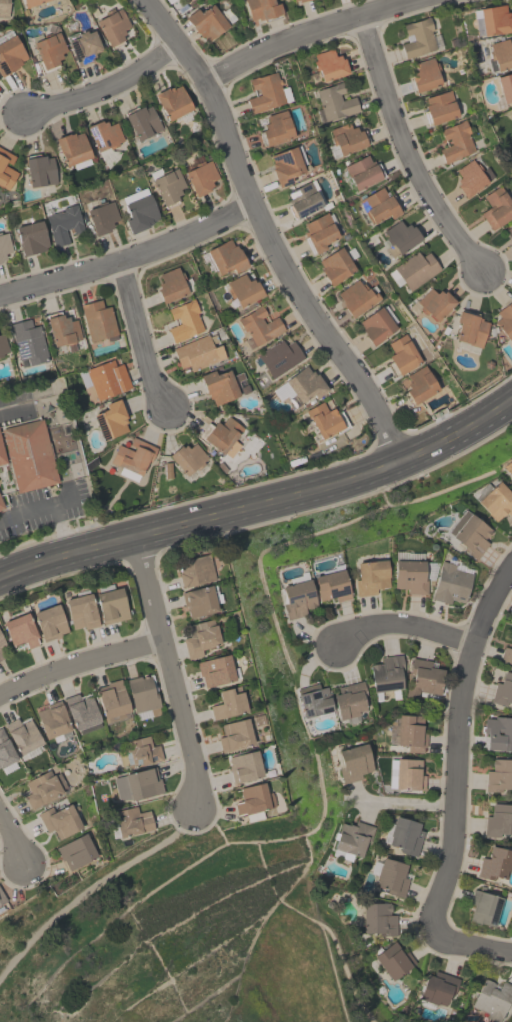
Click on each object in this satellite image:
building: (293, 0)
building: (299, 0)
building: (31, 2)
building: (3, 8)
building: (262, 9)
building: (491, 20)
building: (209, 21)
building: (112, 26)
road: (301, 33)
building: (417, 38)
building: (82, 46)
building: (48, 51)
building: (9, 53)
building: (499, 55)
building: (329, 64)
building: (424, 75)
building: (505, 86)
road: (104, 88)
building: (266, 92)
building: (172, 101)
building: (334, 101)
building: (439, 107)
building: (511, 110)
building: (511, 112)
building: (511, 119)
building: (142, 121)
building: (511, 123)
building: (276, 128)
building: (511, 128)
building: (103, 136)
building: (346, 138)
building: (455, 142)
road: (404, 148)
building: (73, 149)
building: (287, 164)
building: (6, 169)
building: (39, 170)
building: (362, 172)
building: (471, 176)
building: (200, 177)
building: (168, 186)
building: (302, 200)
building: (377, 206)
building: (496, 208)
building: (138, 210)
building: (102, 217)
building: (62, 223)
building: (319, 232)
building: (509, 232)
road: (265, 234)
building: (400, 236)
building: (30, 237)
building: (4, 245)
road: (128, 256)
building: (226, 257)
building: (336, 264)
building: (413, 269)
building: (170, 284)
building: (243, 290)
building: (356, 297)
building: (434, 303)
building: (98, 320)
building: (505, 320)
building: (183, 321)
building: (259, 326)
building: (376, 326)
building: (62, 330)
building: (469, 330)
road: (138, 334)
building: (28, 342)
building: (2, 344)
building: (197, 352)
building: (401, 356)
building: (278, 357)
building: (107, 378)
building: (221, 385)
building: (304, 385)
building: (419, 385)
road: (10, 409)
building: (110, 420)
building: (325, 420)
building: (221, 436)
building: (28, 455)
building: (1, 456)
building: (132, 458)
building: (187, 458)
building: (508, 467)
road: (330, 485)
building: (494, 500)
building: (1, 506)
road: (33, 510)
building: (469, 533)
road: (66, 555)
building: (194, 570)
building: (408, 572)
building: (370, 577)
building: (450, 584)
building: (331, 586)
building: (200, 599)
building: (297, 599)
building: (110, 604)
building: (81, 612)
building: (49, 622)
road: (401, 624)
building: (20, 631)
building: (200, 638)
building: (1, 641)
building: (511, 641)
building: (506, 655)
building: (1, 656)
road: (79, 662)
building: (214, 671)
building: (386, 674)
road: (171, 676)
building: (423, 678)
building: (503, 690)
building: (142, 697)
building: (349, 700)
building: (112, 701)
building: (313, 702)
building: (228, 703)
building: (81, 713)
building: (53, 722)
building: (410, 732)
building: (498, 733)
building: (234, 735)
building: (23, 737)
road: (457, 737)
building: (139, 753)
building: (6, 754)
building: (351, 761)
building: (244, 766)
building: (405, 774)
building: (499, 775)
building: (136, 784)
building: (44, 788)
building: (253, 801)
road: (406, 803)
building: (498, 820)
building: (59, 821)
building: (130, 822)
building: (405, 836)
road: (12, 840)
building: (351, 840)
building: (76, 851)
building: (495, 864)
building: (391, 877)
road: (88, 887)
building: (2, 897)
building: (483, 907)
building: (377, 919)
road: (464, 943)
building: (393, 960)
building: (437, 988)
building: (492, 998)

